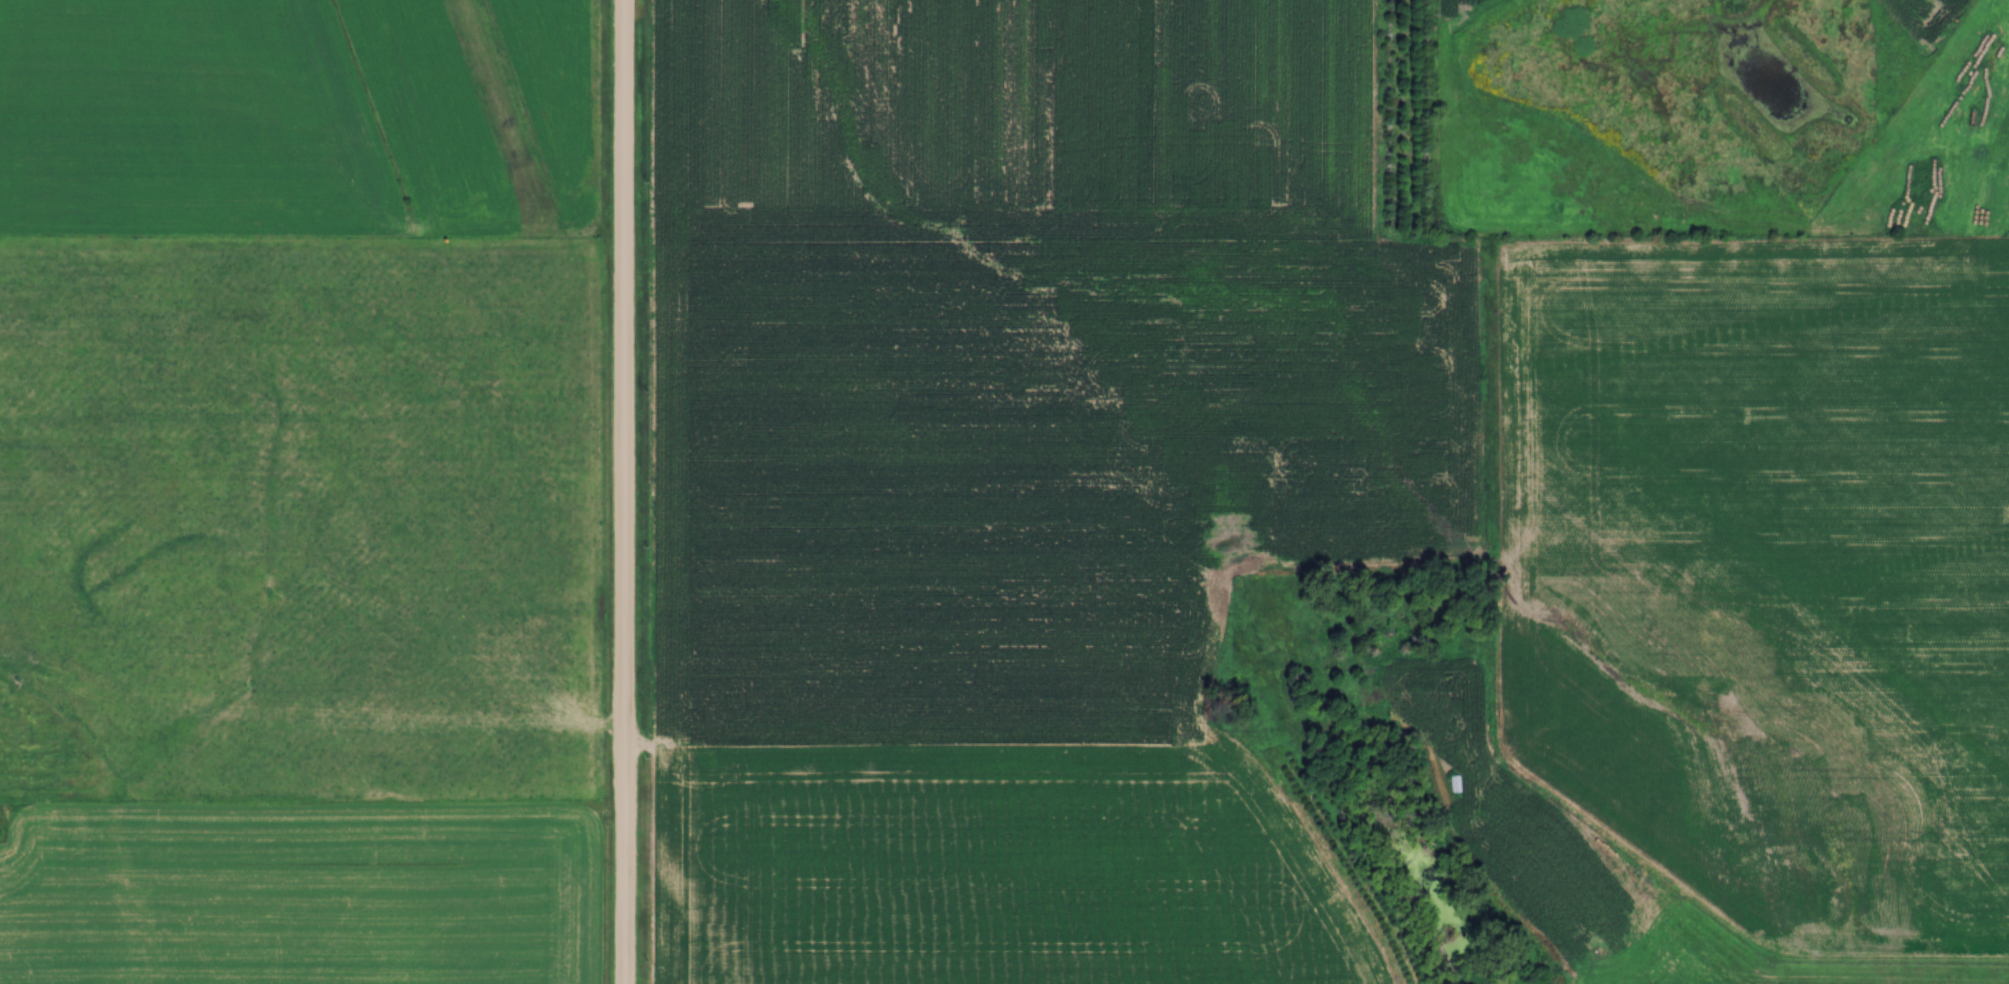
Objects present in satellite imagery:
airport runway: (506, 85)
road: (621, 491)

